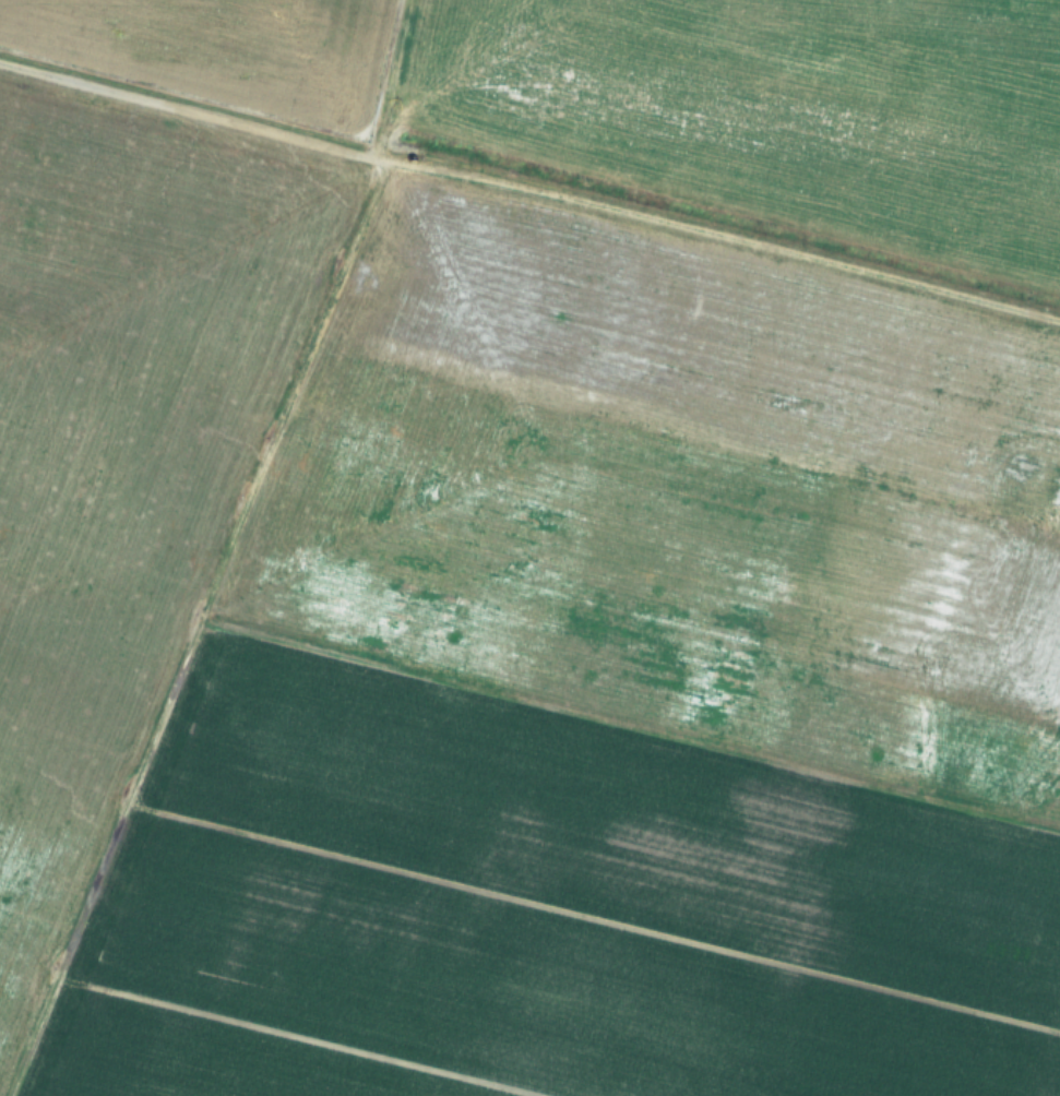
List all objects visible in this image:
crop: (529, 548)

